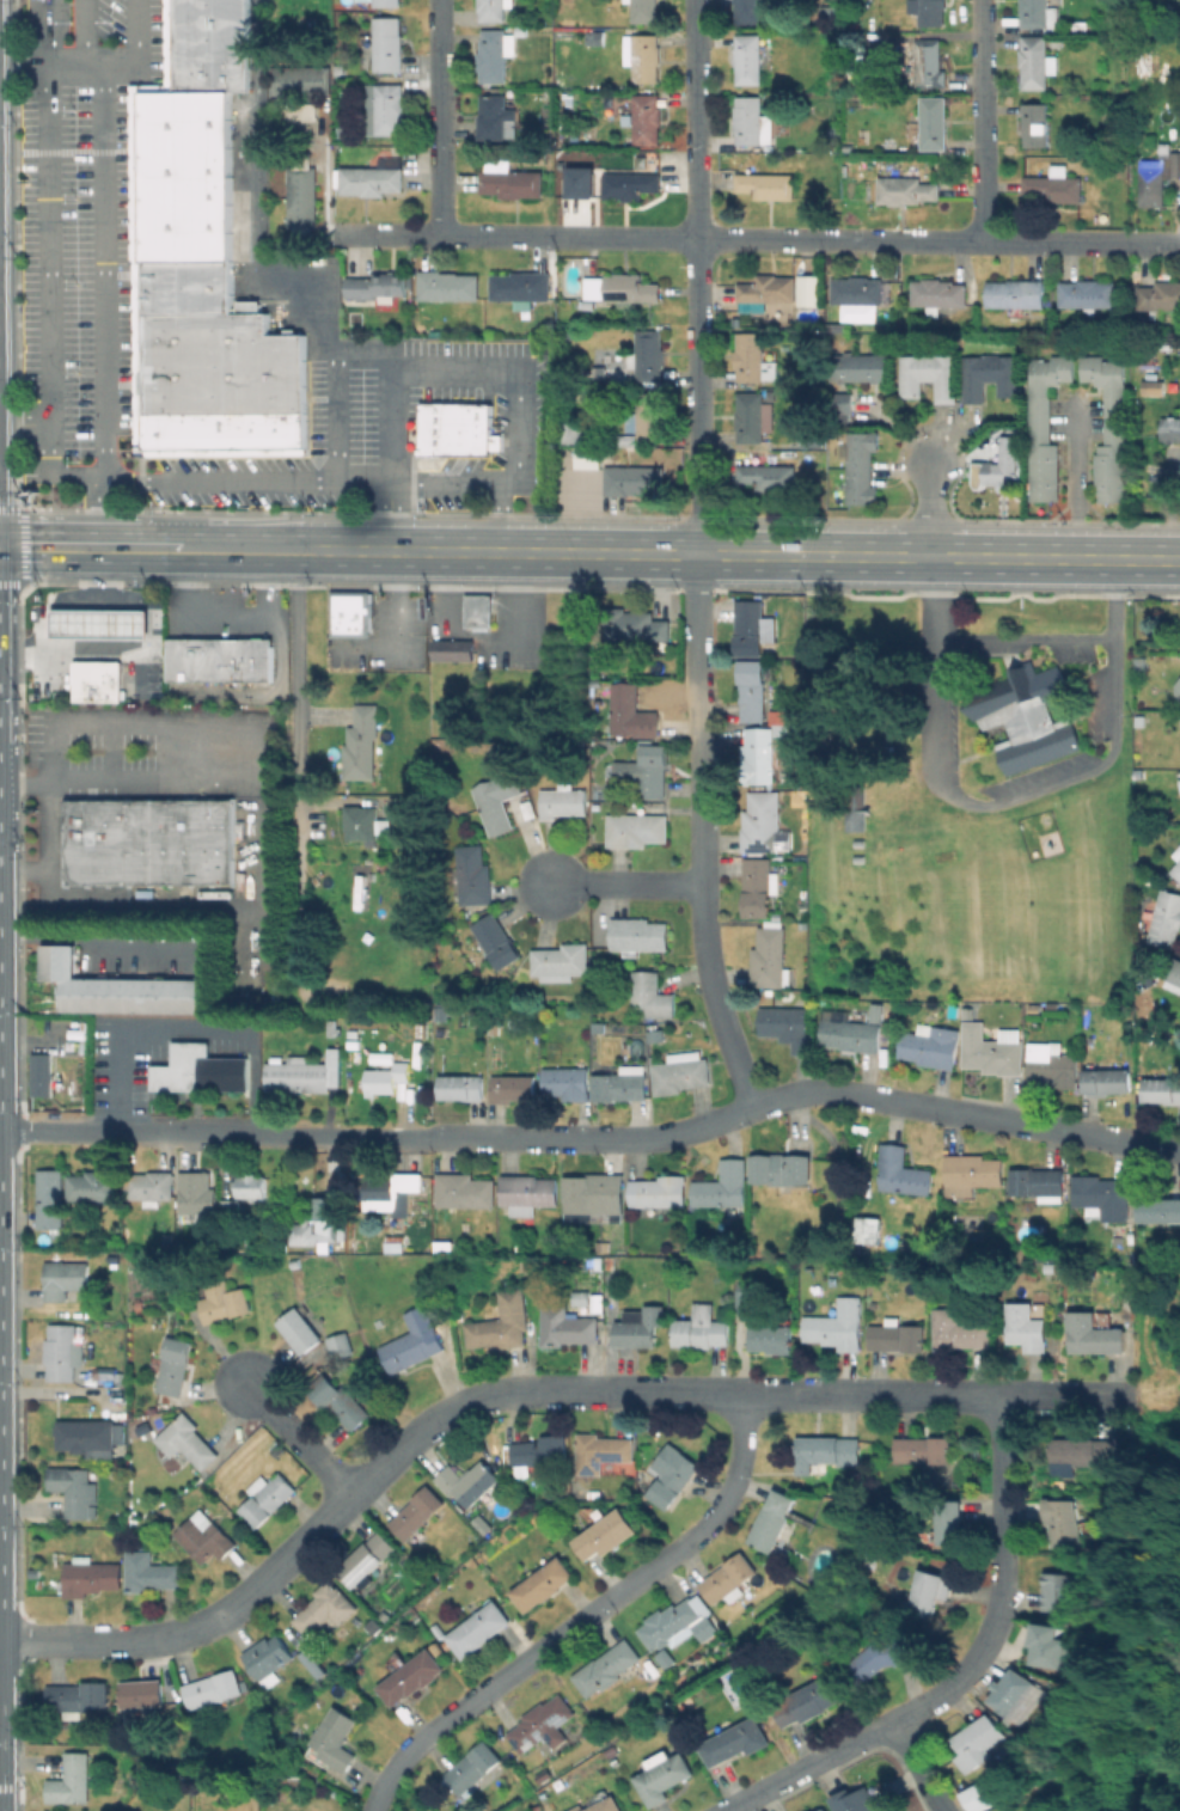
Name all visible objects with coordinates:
road: (55, 1)
building: (386, 2)
building: (846, 2)
building: (204, 7)
building: (493, 10)
building: (644, 10)
building: (754, 11)
building: (830, 11)
building: (931, 12)
building: (1039, 14)
building: (1084, 25)
road: (49, 31)
building: (204, 31)
road: (82, 33)
building: (595, 38)
building: (1057, 41)
building: (387, 43)
road: (134, 49)
building: (494, 55)
building: (646, 57)
building: (748, 57)
building: (1037, 62)
building: (930, 63)
road: (50, 67)
building: (204, 69)
building: (338, 69)
building: (294, 79)
building: (548, 80)
building: (832, 81)
building: (390, 108)
building: (295, 111)
building: (495, 114)
road: (440, 117)
building: (647, 118)
building: (752, 121)
road: (988, 121)
building: (931, 122)
building: (1035, 123)
building: (528, 154)
building: (179, 175)
building: (1157, 177)
building: (372, 178)
building: (509, 179)
building: (577, 181)
building: (632, 182)
building: (766, 185)
building: (1054, 185)
building: (906, 190)
building: (299, 195)
road: (758, 239)
road: (256, 256)
building: (378, 285)
building: (447, 285)
rooftop solar panel: (882, 285)
building: (181, 286)
building: (520, 287)
building: (622, 288)
building: (812, 289)
building: (857, 289)
building: (768, 290)
road: (45, 293)
building: (1016, 293)
building: (937, 294)
building: (1087, 294)
building: (1160, 298)
road: (103, 307)
road: (11, 308)
building: (567, 334)
building: (648, 355)
building: (752, 357)
building: (214, 362)
building: (857, 366)
road: (451, 368)
building: (929, 375)
building: (991, 375)
building: (1149, 386)
building: (837, 402)
building: (648, 416)
building: (754, 417)
road: (386, 426)
building: (1045, 426)
building: (1111, 426)
building: (454, 428)
building: (1168, 428)
building: (574, 432)
building: (218, 433)
building: (257, 433)
building: (286, 433)
building: (159, 434)
building: (191, 434)
building: (202, 434)
building: (237, 434)
building: (625, 440)
building: (586, 457)
building: (861, 467)
building: (1001, 467)
building: (768, 476)
building: (632, 479)
road: (241, 481)
road: (1080, 482)
road: (506, 484)
road: (930, 509)
road: (499, 518)
road: (91, 546)
road: (243, 549)
road: (316, 550)
road: (360, 551)
road: (598, 552)
road: (698, 557)
road: (991, 558)
road: (98, 574)
road: (103, 599)
building: (476, 610)
building: (354, 612)
building: (98, 623)
gas station: (98, 623)
building: (635, 624)
road: (398, 626)
building: (752, 629)
road: (292, 635)
parking lot: (383, 637)
road: (1022, 643)
road: (91, 644)
building: (450, 649)
building: (218, 659)
parking lot: (141, 668)
building: (96, 680)
parking lot: (48, 681)
building: (1178, 687)
building: (752, 689)
building: (631, 712)
building: (789, 715)
building: (1026, 715)
road: (143, 720)
building: (1179, 723)
building: (362, 742)
parking lot: (154, 750)
building: (759, 755)
building: (647, 770)
building: (1138, 773)
road: (120, 783)
building: (1178, 784)
road: (1007, 799)
building: (499, 800)
building: (563, 801)
building: (856, 808)
building: (403, 809)
building: (762, 821)
building: (365, 824)
building: (636, 828)
building: (152, 840)
rooftop solar panel: (756, 845)
building: (1178, 854)
building: (1176, 869)
building: (473, 875)
road: (626, 883)
building: (758, 885)
building: (1164, 917)
road: (106, 935)
building: (638, 935)
building: (497, 940)
building: (770, 955)
building: (562, 959)
building: (1175, 971)
building: (121, 987)
building: (652, 993)
building: (879, 1003)
building: (1035, 1008)
building: (954, 1011)
building: (442, 1012)
building: (785, 1023)
building: (334, 1026)
building: (495, 1026)
building: (599, 1028)
building: (421, 1030)
building: (850, 1034)
building: (656, 1035)
building: (931, 1045)
building: (996, 1052)
building: (1052, 1064)
building: (201, 1070)
building: (680, 1071)
building: (42, 1073)
building: (295, 1073)
building: (387, 1077)
building: (568, 1081)
building: (1107, 1081)
road: (124, 1083)
building: (622, 1084)
building: (461, 1085)
building: (513, 1088)
building: (1162, 1089)
road: (595, 1137)
building: (782, 1168)
building: (903, 1170)
building: (972, 1173)
building: (1039, 1182)
building: (723, 1185)
building: (92, 1186)
building: (251, 1186)
building: (151, 1187)
building: (465, 1189)
building: (659, 1191)
building: (197, 1193)
building: (391, 1193)
building: (526, 1193)
building: (594, 1197)
building: (1102, 1197)
building: (50, 1199)
building: (416, 1206)
building: (233, 1210)
building: (1158, 1210)
building: (336, 1220)
building: (867, 1229)
building: (399, 1247)
rooftop solar panel: (393, 1249)
building: (1050, 1268)
building: (408, 1269)
building: (63, 1278)
building: (747, 1299)
building: (224, 1301)
building: (580, 1301)
building: (139, 1302)
building: (600, 1304)
building: (459, 1315)
building: (837, 1324)
building: (501, 1326)
building: (565, 1326)
building: (641, 1326)
building: (702, 1327)
building: (1026, 1327)
building: (300, 1329)
building: (958, 1330)
building: (1093, 1333)
building: (895, 1335)
building: (771, 1338)
building: (416, 1340)
building: (341, 1344)
building: (60, 1351)
building: (172, 1364)
road: (522, 1391)
road: (1155, 1393)
building: (338, 1401)
building: (87, 1436)
road: (301, 1438)
building: (188, 1440)
building: (923, 1449)
building: (277, 1450)
building: (538, 1450)
building: (827, 1451)
building: (1080, 1452)
building: (597, 1454)
rooftop solar panel: (603, 1455)
rooftop solar panel: (609, 1456)
rooftop solar panel: (595, 1462)
rooftop solar panel: (587, 1470)
building: (672, 1474)
building: (470, 1481)
building: (74, 1489)
building: (267, 1498)
building: (417, 1511)
building: (772, 1521)
building: (1059, 1521)
building: (949, 1522)
building: (605, 1534)
building: (206, 1538)
building: (366, 1559)
rooftop solar panel: (361, 1571)
building: (149, 1572)
building: (90, 1576)
building: (728, 1578)
road: (998, 1581)
building: (543, 1584)
building: (930, 1591)
building: (1053, 1593)
building: (325, 1607)
road: (582, 1616)
building: (677, 1625)
building: (478, 1628)
building: (438, 1630)
building: (1045, 1646)
building: (666, 1658)
building: (268, 1659)
building: (882, 1659)
building: (609, 1668)
building: (410, 1677)
building: (213, 1688)
building: (1010, 1691)
building: (141, 1695)
building: (77, 1696)
building: (808, 1701)
building: (543, 1723)
building: (335, 1739)
building: (735, 1740)
building: (976, 1742)
building: (473, 1766)
road: (808, 1766)
road: (917, 1766)
building: (187, 1769)
building: (545, 1773)
building: (662, 1775)
building: (72, 1780)
building: (980, 1797)
building: (858, 1803)
building: (606, 1805)
road: (742, 1806)
building: (819, 1809)

